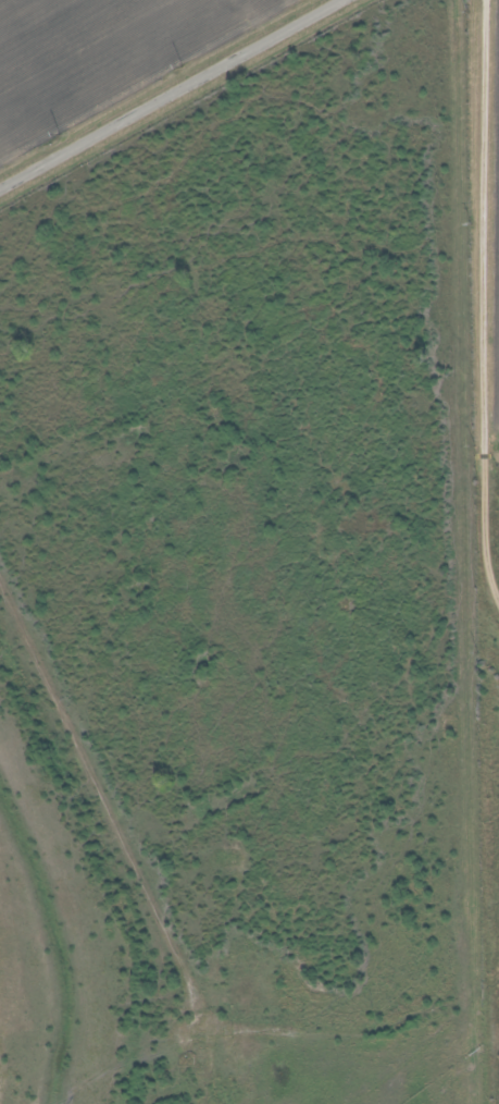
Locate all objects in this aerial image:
road: (167, 93)
road: (475, 289)
road: (74, 796)

